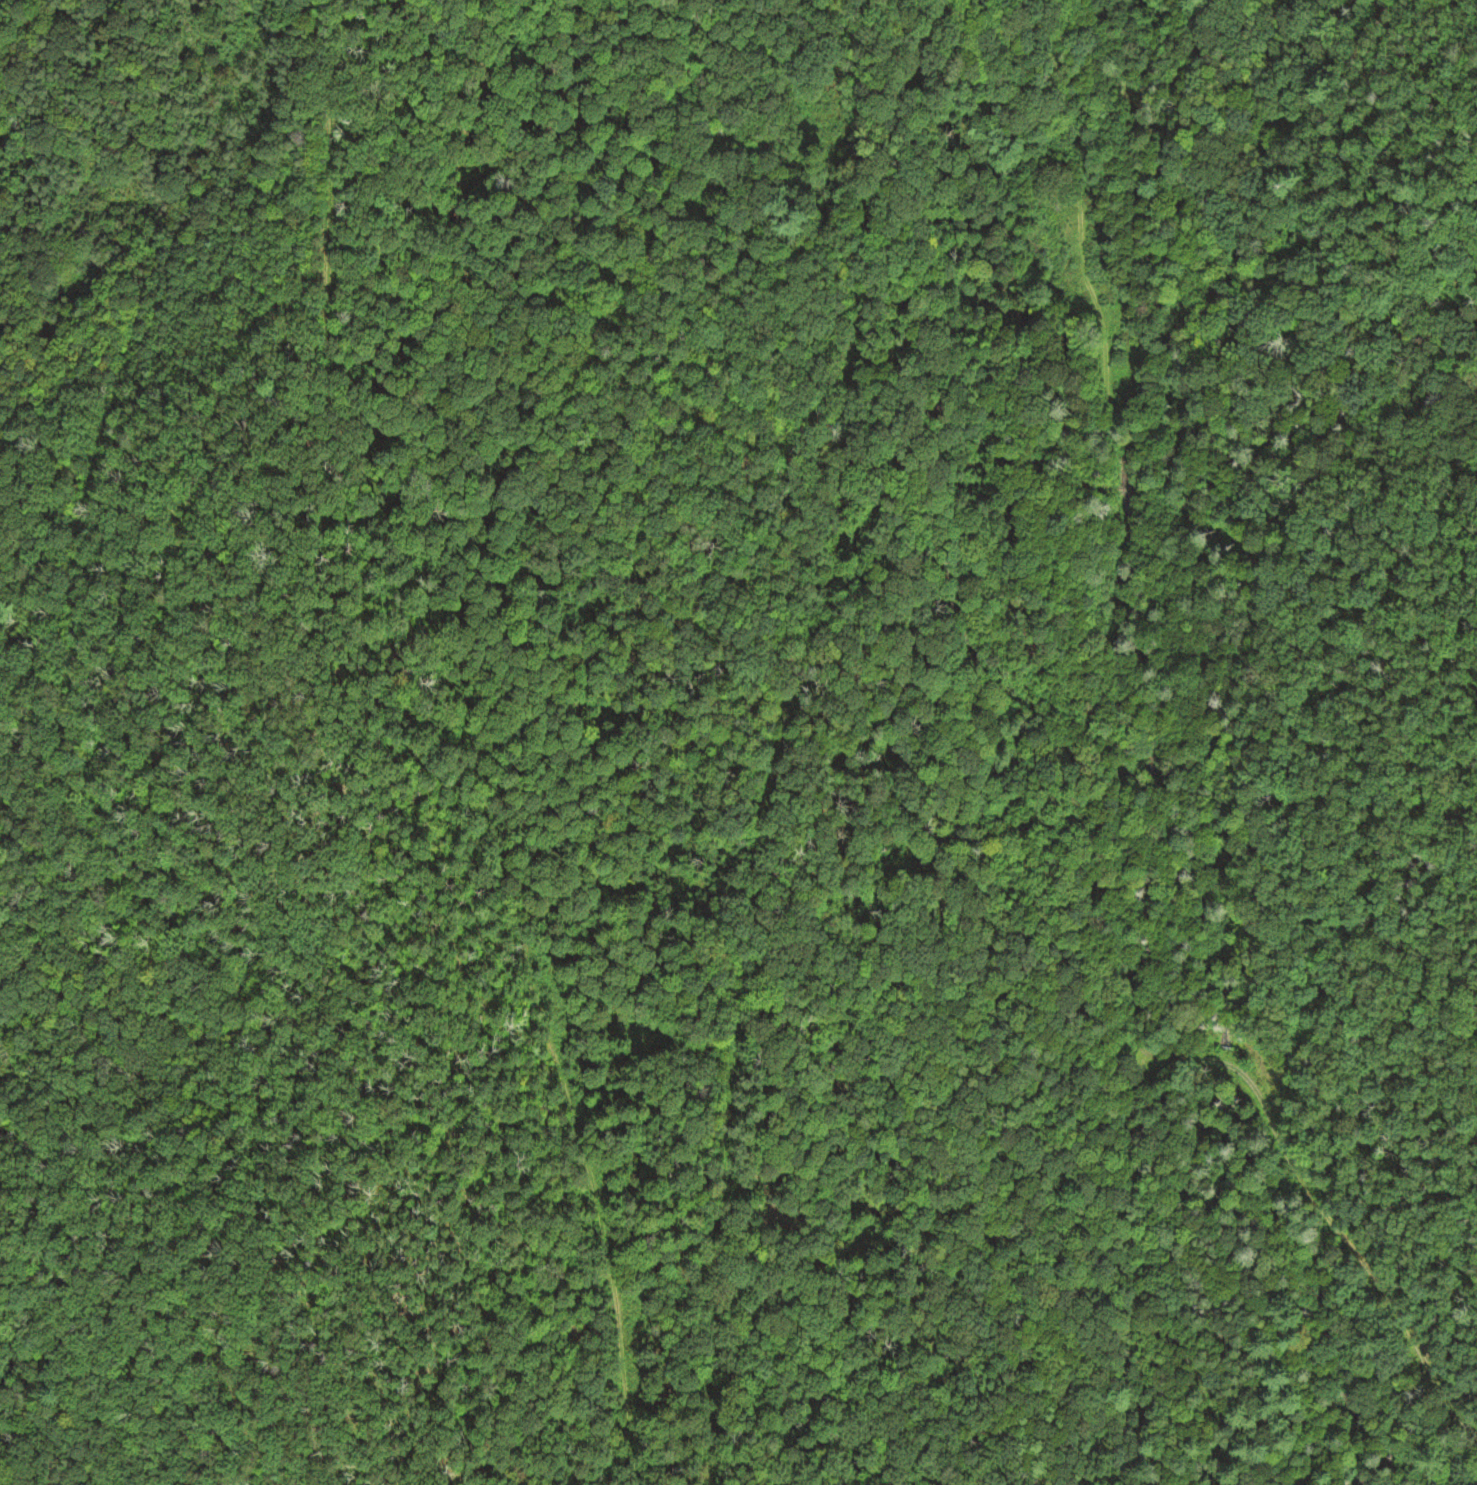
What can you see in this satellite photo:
road: (739, 732)
road: (464, 739)
road: (1126, 801)

